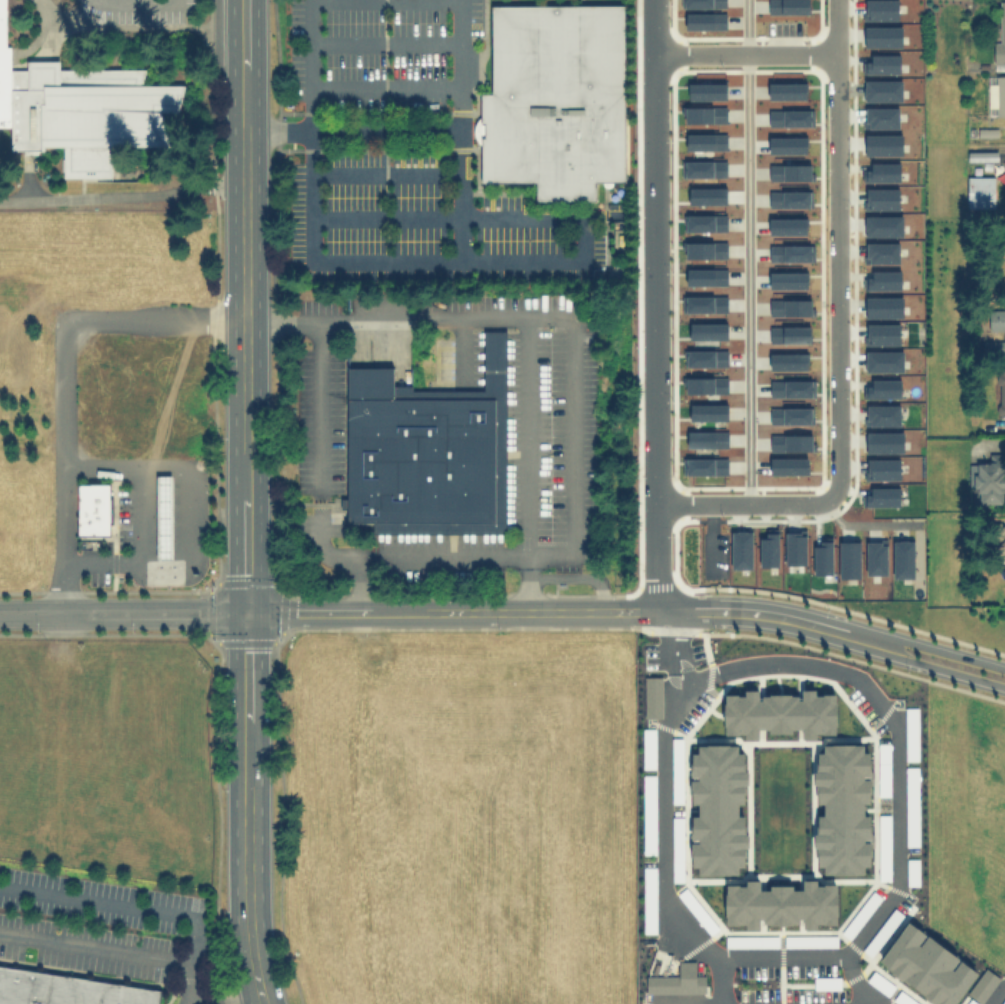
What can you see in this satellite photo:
road: (357, 0)
road: (131, 3)
parking lot: (133, 10)
building: (1000, 38)
road: (385, 44)
road: (745, 54)
road: (385, 89)
building: (997, 94)
building: (555, 99)
building: (80, 110)
road: (352, 128)
road: (461, 129)
building: (982, 156)
road: (385, 174)
building: (1004, 179)
building: (980, 191)
road: (122, 194)
road: (310, 205)
road: (385, 216)
road: (583, 237)
road: (748, 251)
road: (655, 305)
road: (296, 319)
building: (998, 325)
road: (837, 336)
road: (64, 375)
building: (1000, 391)
road: (570, 423)
road: (528, 436)
building: (426, 451)
road: (320, 463)
building: (988, 478)
road: (244, 502)
building: (93, 509)
road: (141, 515)
building: (162, 516)
road: (184, 518)
gas station: (140, 519)
road: (866, 524)
building: (999, 540)
road: (578, 577)
road: (529, 581)
road: (359, 583)
road: (480, 611)
road: (122, 612)
traffic signals: (245, 612)
road: (800, 621)
road: (944, 652)
road: (942, 668)
building: (652, 696)
building: (779, 713)
road: (888, 734)
road: (666, 792)
building: (718, 809)
building: (843, 809)
road: (97, 901)
building: (780, 904)
road: (98, 948)
road: (195, 961)
road: (781, 963)
building: (927, 966)
building: (677, 980)
road: (718, 983)
building: (982, 985)
building: (67, 989)
road: (221, 997)

